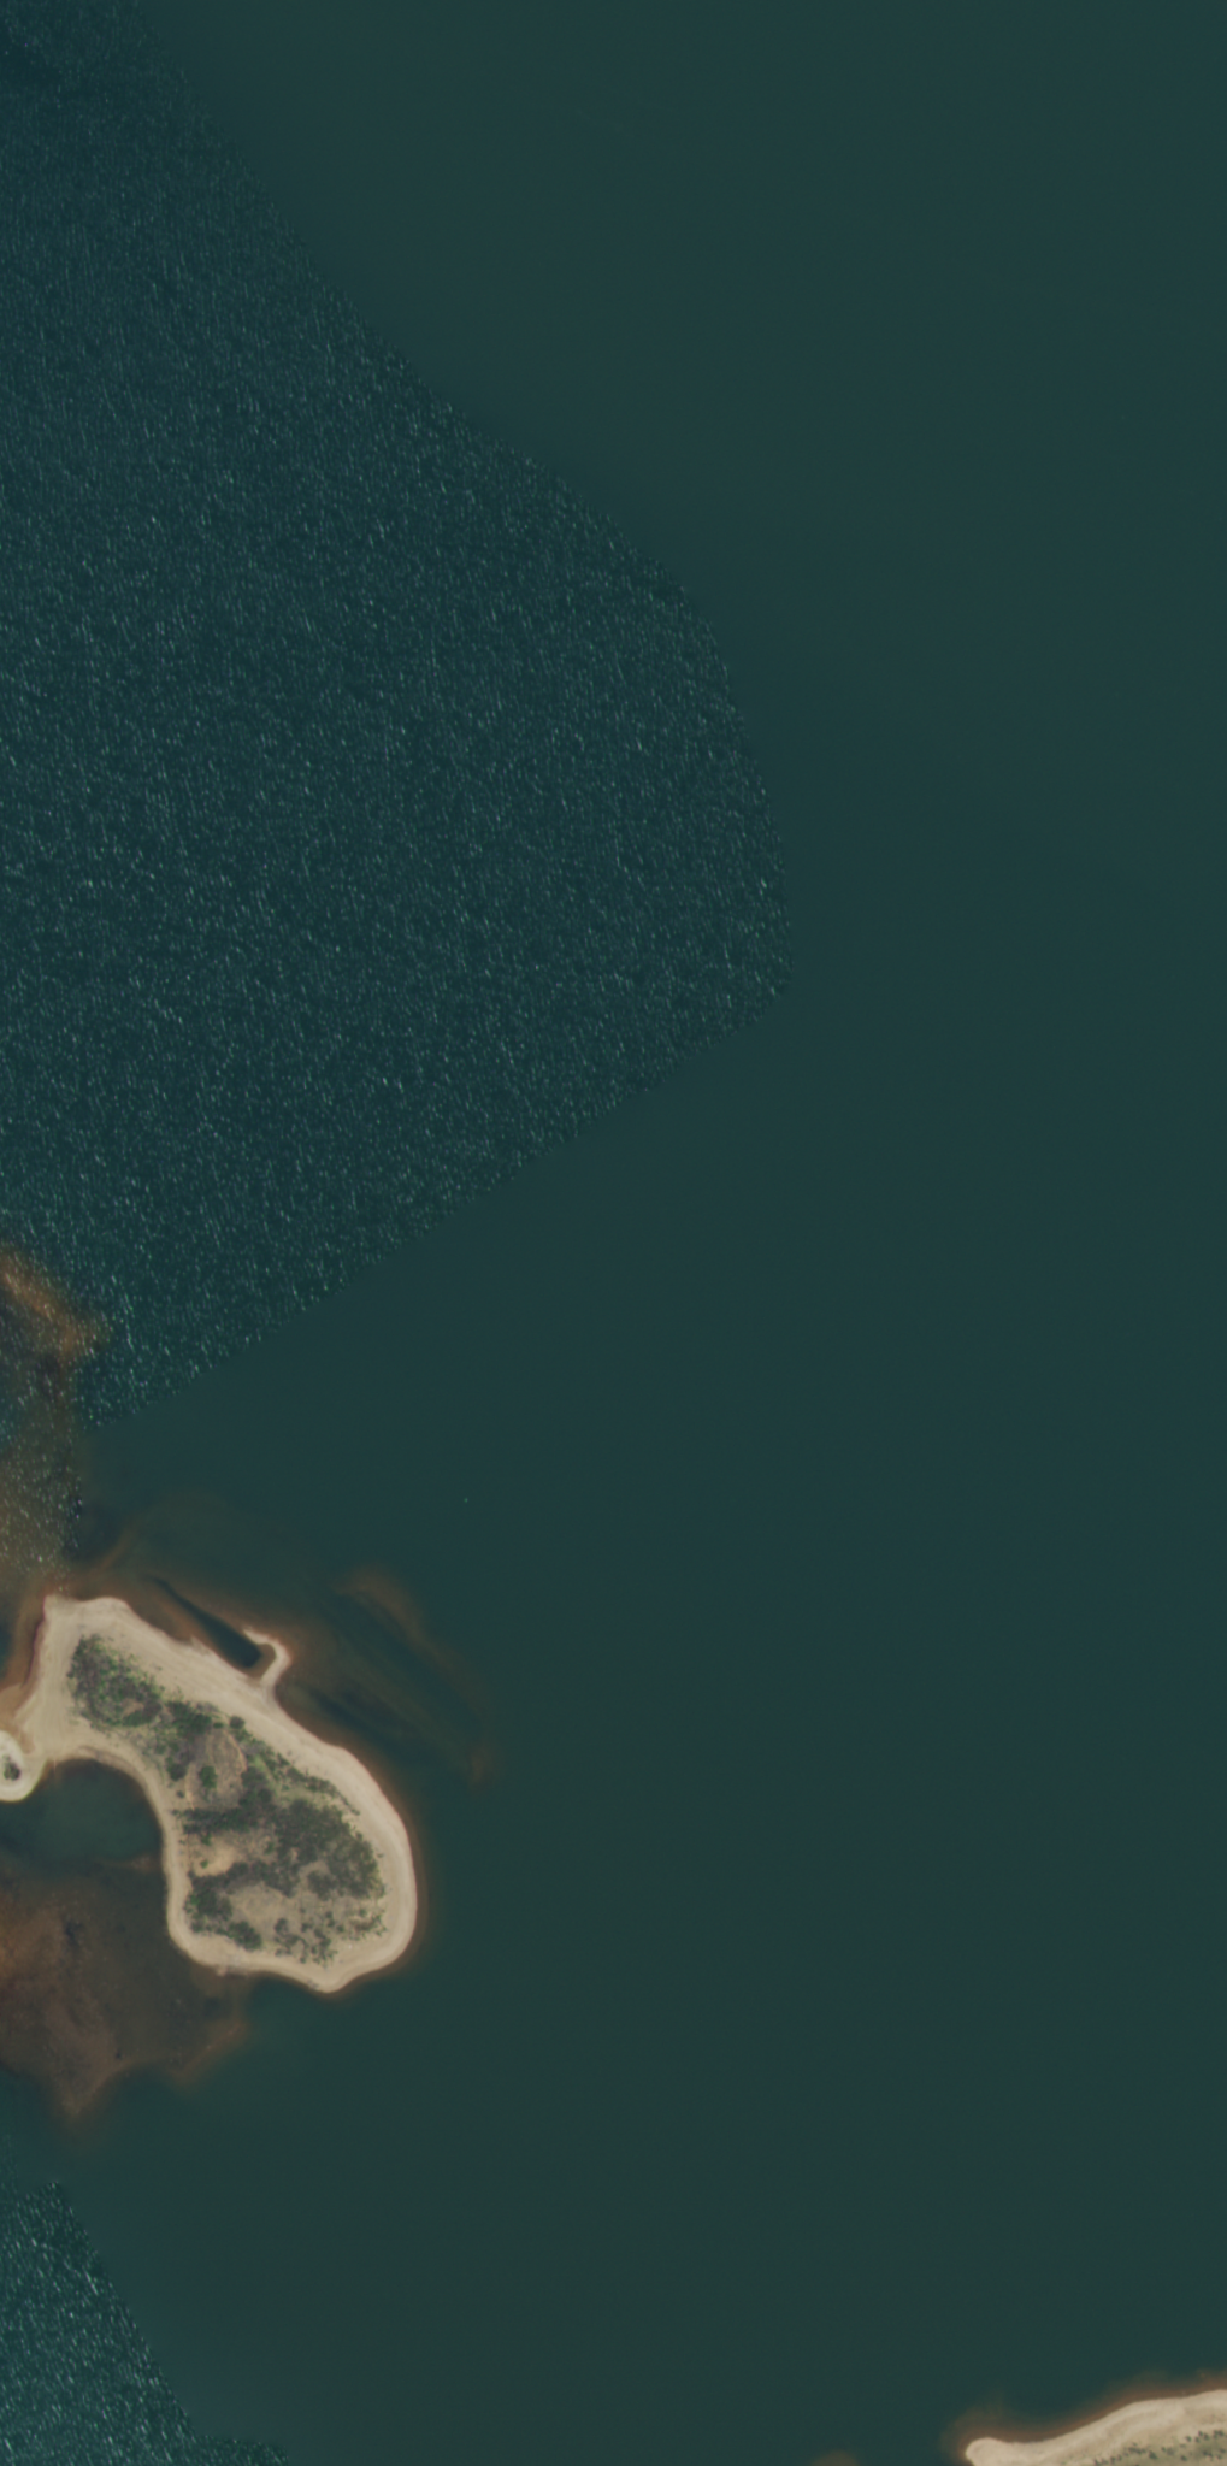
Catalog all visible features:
river: (613, 184)

